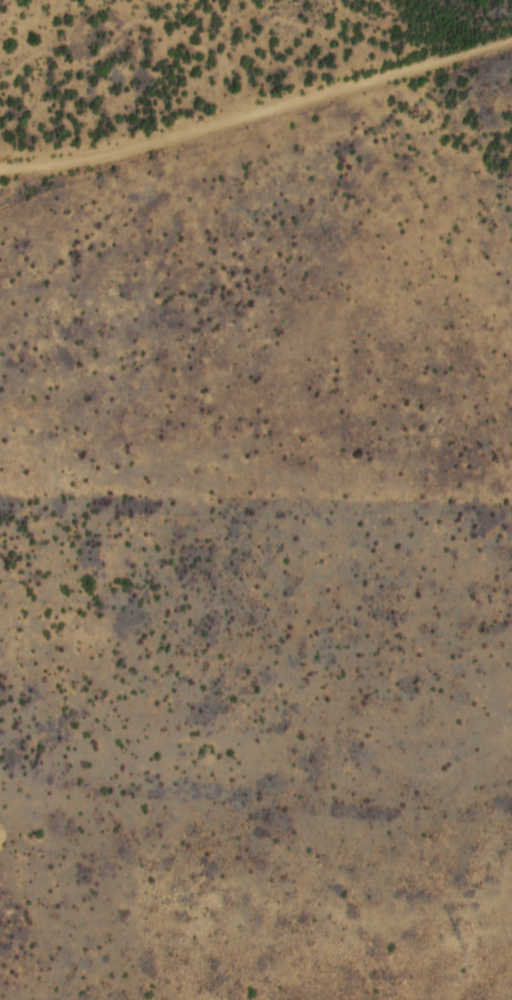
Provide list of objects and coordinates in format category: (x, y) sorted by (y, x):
road: (108, 62)
road: (253, 84)

